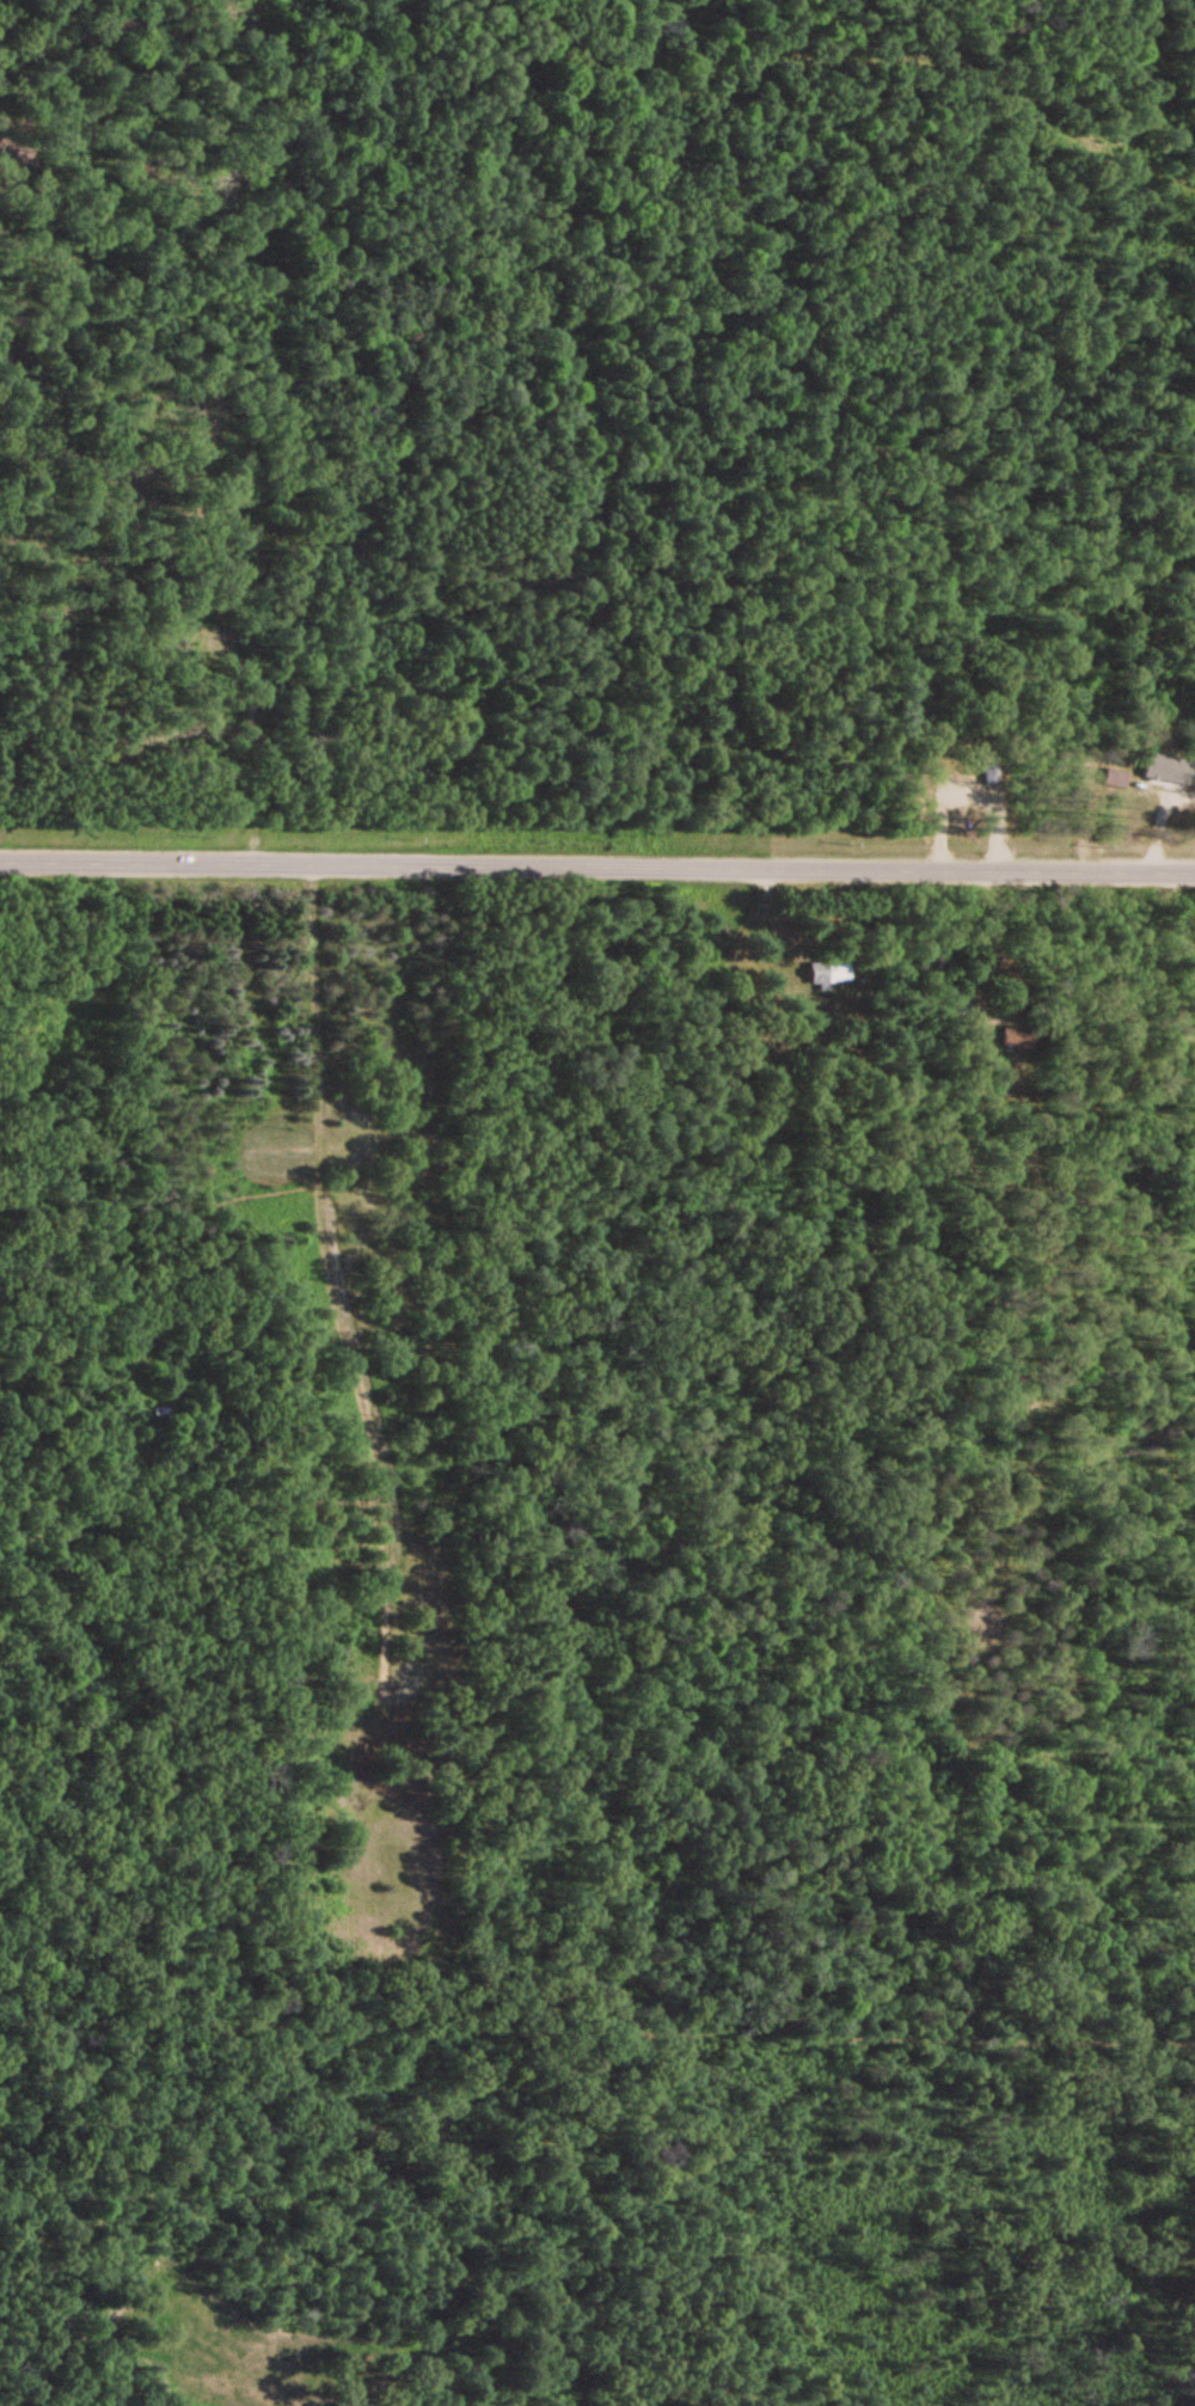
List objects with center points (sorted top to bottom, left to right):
building: (1163, 763)
road: (597, 865)
building: (828, 969)
building: (962, 1004)
building: (1017, 1035)
building: (436, 1756)

